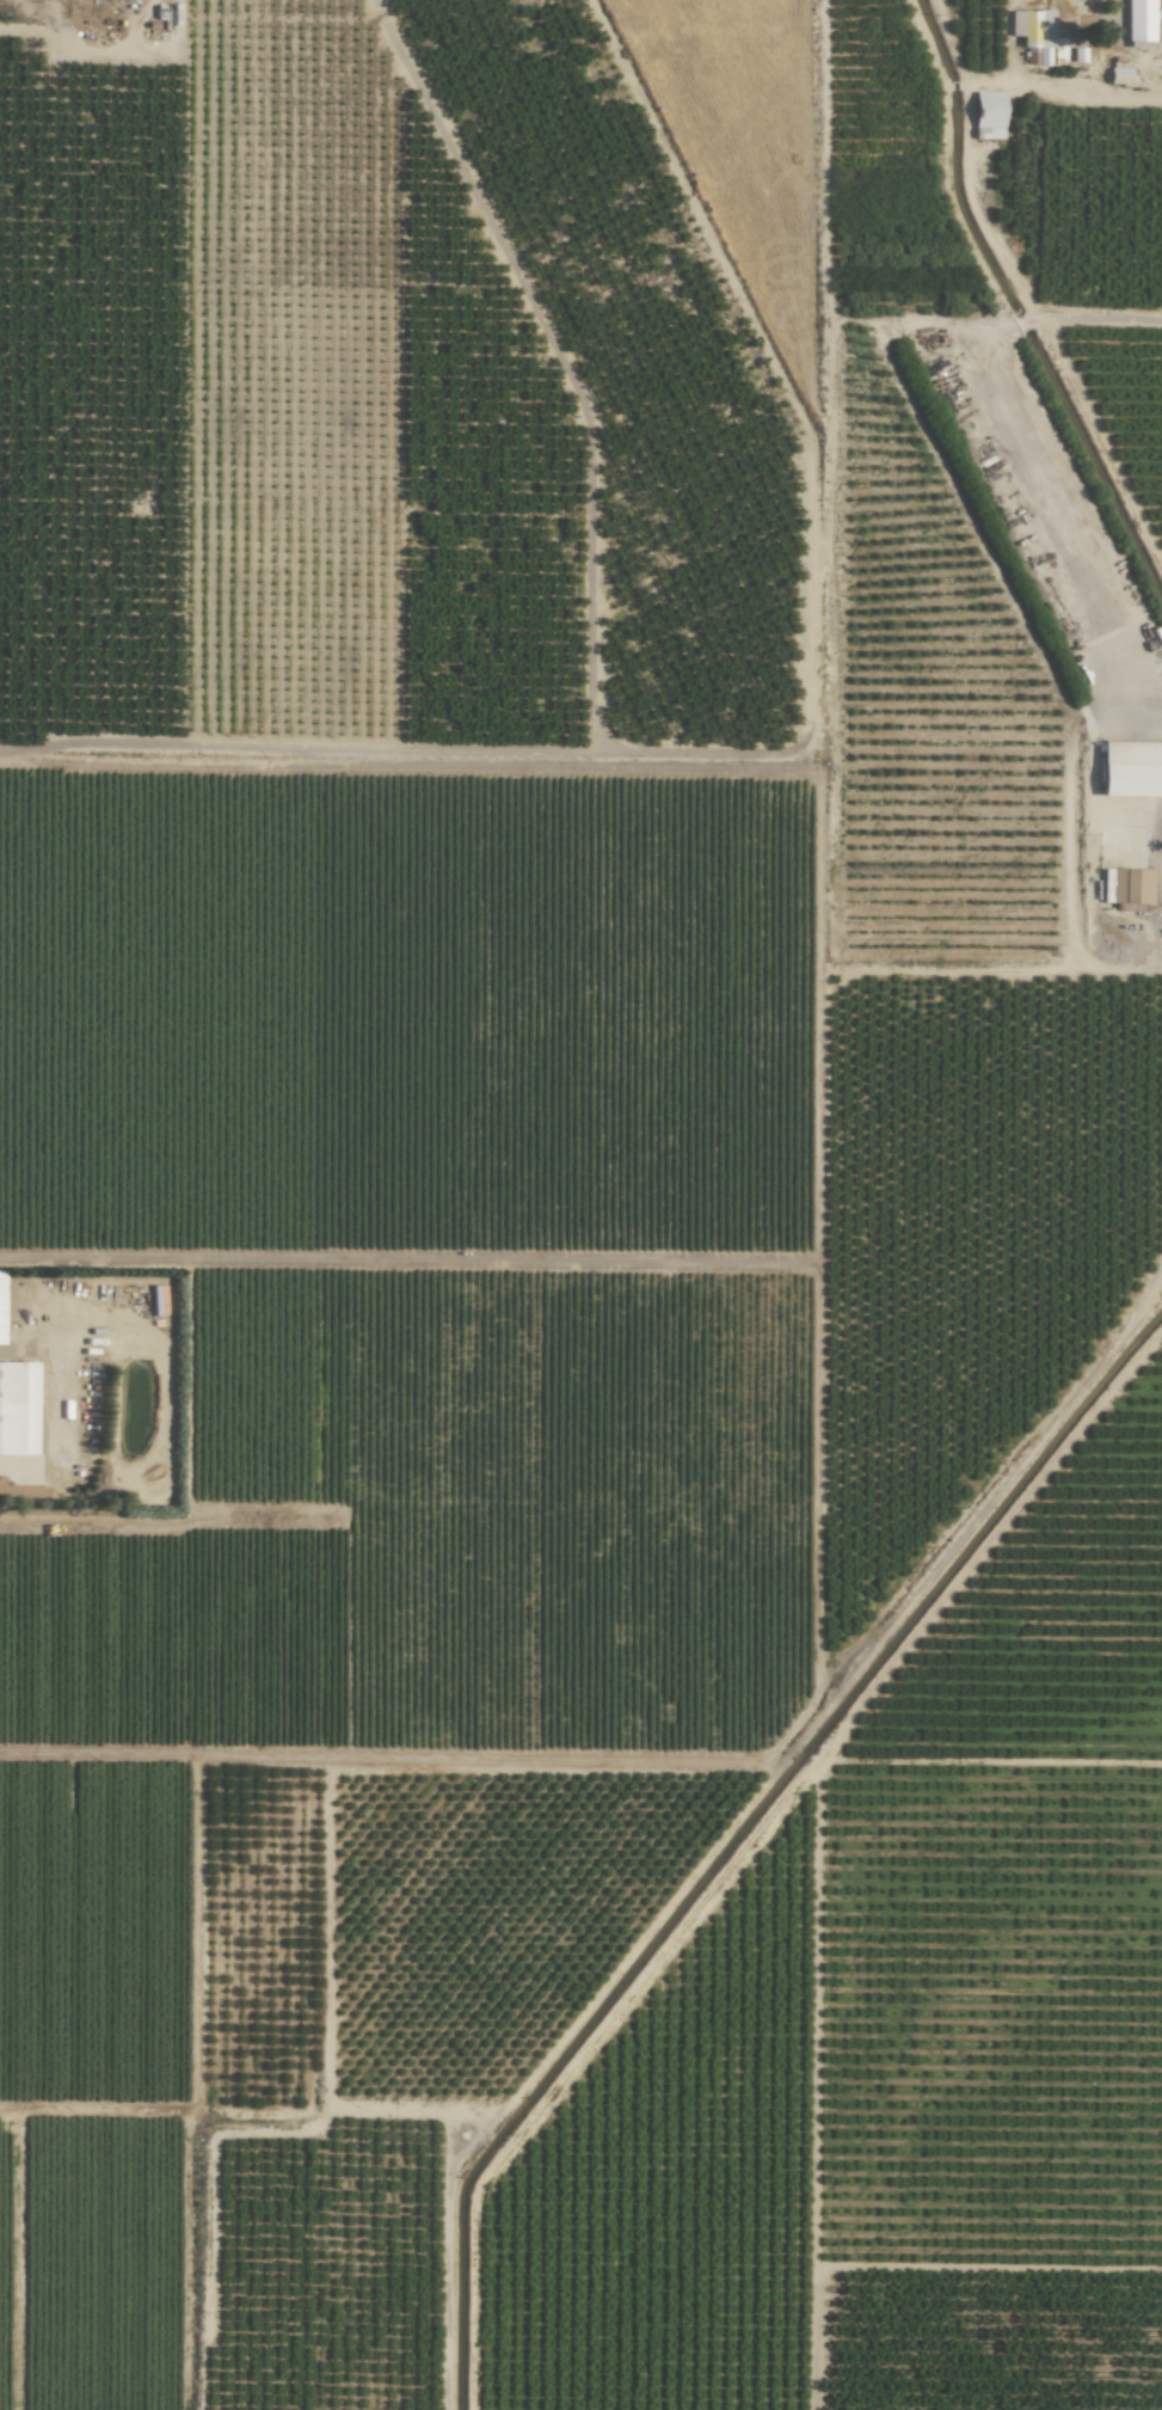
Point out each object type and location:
road: (1118, 12)
building: (1142, 23)
building: (1032, 32)
building: (1118, 75)
building: (986, 116)
road: (405, 754)
building: (1130, 769)
building: (1125, 887)
road: (100, 1257)
building: (0, 1301)
building: (17, 1409)
road: (87, 1522)
road: (382, 1759)

